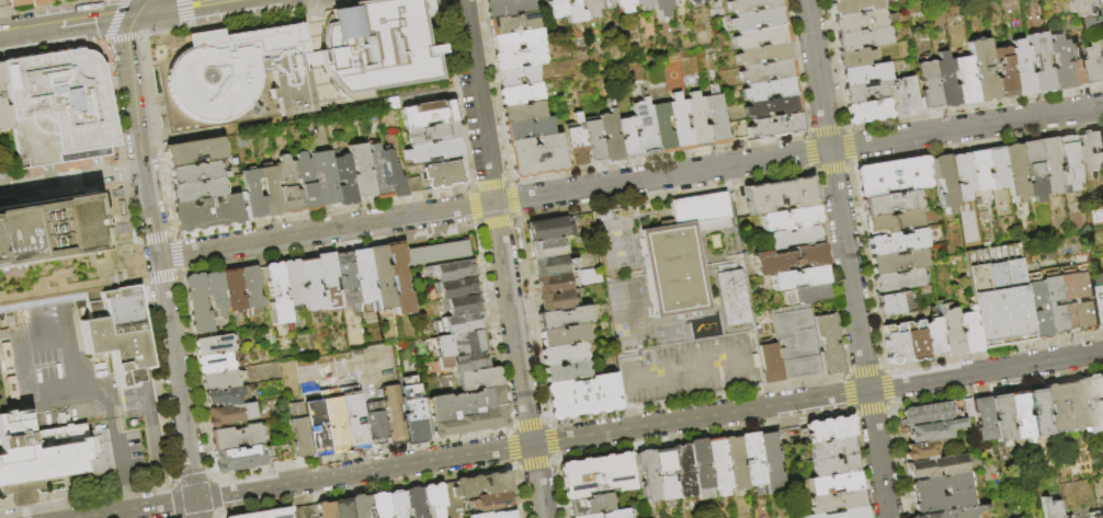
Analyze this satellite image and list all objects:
building: (489, 0)
building: (30, 2)
building: (696, 2)
building: (4, 3)
building: (607, 4)
building: (643, 4)
building: (626, 5)
building: (753, 5)
building: (854, 5)
road: (45, 7)
building: (1089, 7)
road: (144, 8)
road: (183, 8)
building: (504, 8)
building: (590, 8)
building: (662, 8)
building: (555, 9)
road: (184, 12)
building: (573, 12)
road: (276, 14)
traffic signals: (137, 15)
road: (109, 19)
road: (114, 20)
building: (759, 20)
building: (860, 22)
building: (1096, 22)
building: (511, 23)
road: (41, 31)
road: (164, 32)
building: (762, 37)
road: (123, 38)
building: (863, 39)
building: (516, 41)
building: (379, 48)
road: (52, 49)
building: (764, 55)
building: (519, 58)
building: (856, 58)
building: (1041, 62)
building: (1061, 62)
building: (1098, 64)
building: (1080, 66)
building: (1022, 69)
building: (981, 70)
building: (236, 72)
building: (767, 72)
building: (1004, 72)
building: (866, 74)
building: (519, 77)
building: (946, 81)
building: (965, 81)
building: (930, 85)
building: (771, 89)
building: (866, 91)
building: (519, 94)
building: (905, 96)
building: (58, 107)
building: (774, 107)
building: (2, 108)
building: (868, 111)
building: (522, 113)
building: (430, 114)
building: (718, 119)
building: (680, 123)
building: (645, 127)
building: (776, 127)
building: (663, 128)
building: (528, 129)
building: (434, 133)
building: (612, 137)
building: (629, 138)
road: (120, 140)
building: (594, 141)
building: (577, 142)
building: (195, 151)
building: (434, 151)
building: (1091, 153)
building: (536, 157)
building: (1068, 162)
building: (1050, 164)
building: (998, 168)
building: (979, 170)
building: (362, 171)
building: (1034, 171)
building: (1015, 172)
building: (196, 173)
building: (379, 173)
road: (814, 173)
building: (443, 174)
road: (72, 175)
building: (963, 175)
building: (396, 176)
building: (892, 176)
building: (325, 179)
building: (345, 180)
road: (629, 181)
building: (304, 182)
building: (946, 183)
building: (286, 184)
building: (416, 185)
road: (2, 187)
building: (198, 189)
building: (271, 191)
building: (252, 194)
building: (781, 195)
building: (890, 204)
building: (208, 214)
building: (1096, 215)
building: (789, 219)
building: (892, 222)
building: (549, 230)
road: (175, 235)
road: (155, 237)
building: (796, 238)
building: (896, 242)
building: (546, 249)
road: (330, 250)
road: (156, 254)
road: (181, 254)
building: (437, 254)
building: (679, 256)
road: (139, 258)
road: (501, 258)
building: (789, 258)
road: (845, 258)
building: (897, 262)
building: (550, 266)
building: (452, 270)
road: (182, 272)
building: (73, 276)
road: (161, 278)
road: (179, 278)
building: (380, 278)
building: (800, 278)
road: (145, 279)
building: (364, 280)
building: (400, 280)
building: (898, 280)
building: (328, 281)
building: (293, 283)
building: (346, 283)
building: (554, 284)
building: (310, 285)
building: (250, 287)
building: (457, 288)
building: (232, 290)
building: (216, 293)
building: (276, 293)
building: (807, 295)
building: (999, 296)
building: (735, 299)
building: (1101, 299)
building: (556, 301)
building: (1078, 302)
building: (1084, 302)
building: (198, 303)
building: (463, 304)
building: (894, 304)
building: (1049, 304)
building: (1041, 312)
building: (564, 318)
building: (459, 324)
building: (951, 332)
building: (969, 332)
building: (564, 335)
building: (934, 337)
road: (49, 341)
building: (798, 341)
building: (916, 342)
building: (212, 343)
building: (458, 344)
building: (896, 344)
building: (829, 345)
road: (994, 352)
building: (213, 361)
building: (466, 361)
building: (577, 364)
road: (659, 364)
road: (68, 365)
building: (771, 365)
road: (336, 367)
road: (885, 368)
road: (865, 369)
road: (849, 371)
road: (846, 377)
road: (158, 379)
building: (218, 379)
building: (480, 379)
road: (653, 381)
road: (66, 385)
road: (890, 387)
road: (849, 393)
building: (223, 395)
building: (584, 396)
road: (112, 401)
building: (1094, 403)
road: (634, 406)
building: (1066, 406)
road: (891, 407)
building: (969, 408)
building: (413, 411)
road: (851, 411)
road: (872, 411)
building: (228, 413)
building: (467, 413)
building: (1038, 413)
road: (855, 414)
building: (394, 415)
building: (930, 415)
road: (365, 417)
building: (1020, 417)
building: (352, 418)
building: (1001, 418)
building: (325, 419)
building: (983, 419)
building: (376, 422)
road: (548, 423)
road: (530, 424)
road: (649, 426)
road: (511, 428)
building: (829, 429)
building: (298, 431)
road: (728, 431)
building: (932, 431)
building: (236, 436)
road: (554, 441)
road: (513, 448)
building: (832, 448)
building: (284, 449)
building: (921, 451)
road: (121, 453)
building: (47, 454)
road: (362, 454)
building: (238, 457)
road: (557, 458)
building: (753, 459)
building: (700, 463)
building: (735, 463)
building: (771, 463)
road: (554, 464)
road: (535, 465)
building: (835, 465)
road: (516, 467)
building: (718, 467)
building: (936, 467)
building: (682, 471)
road: (209, 474)
building: (666, 474)
building: (600, 475)
building: (648, 475)
road: (191, 476)
road: (172, 480)
building: (833, 483)
road: (368, 490)
building: (473, 491)
road: (127, 492)
road: (84, 493)
road: (522, 493)
building: (943, 493)
road: (215, 495)
building: (433, 499)
building: (837, 500)
road: (172, 502)
building: (493, 502)
building: (414, 503)
road: (24, 505)
building: (379, 505)
building: (397, 505)
building: (591, 505)
building: (361, 507)
building: (1051, 507)
road: (135, 508)
road: (196, 508)
building: (342, 508)
building: (325, 509)
building: (306, 511)
road: (25, 513)
building: (958, 513)
building: (615, 514)
building: (842, 514)
road: (219, 515)
building: (266, 515)
building: (496, 515)
building: (1093, 515)
building: (587, 516)
building: (1101, 516)
road: (175, 517)
road: (219, 517)
building: (1067, 517)

